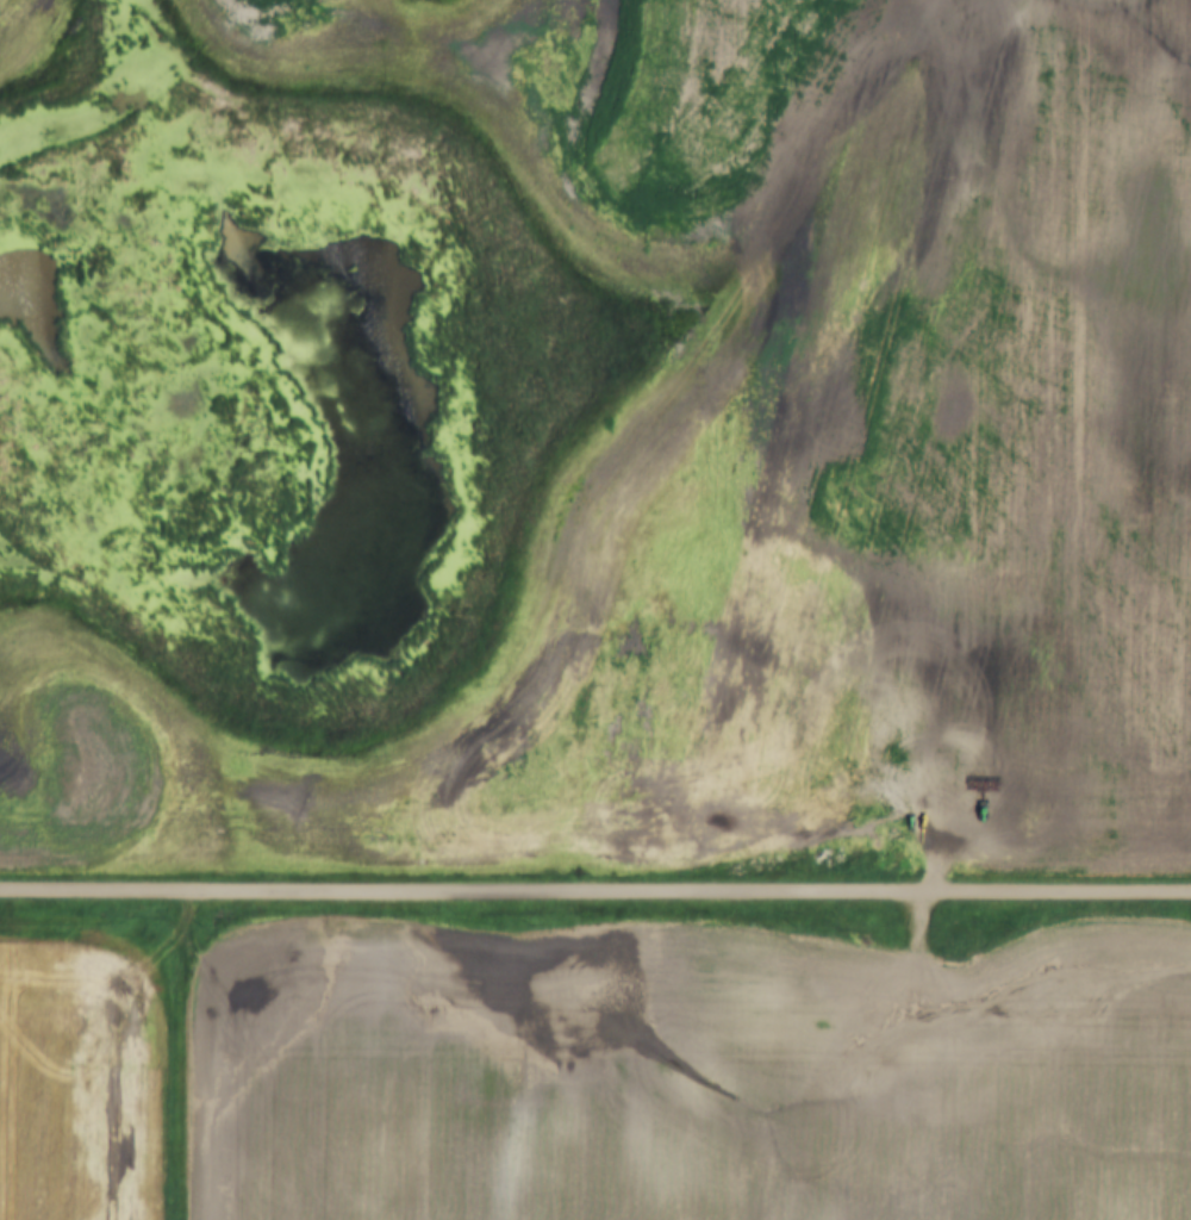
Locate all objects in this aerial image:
road: (595, 890)

